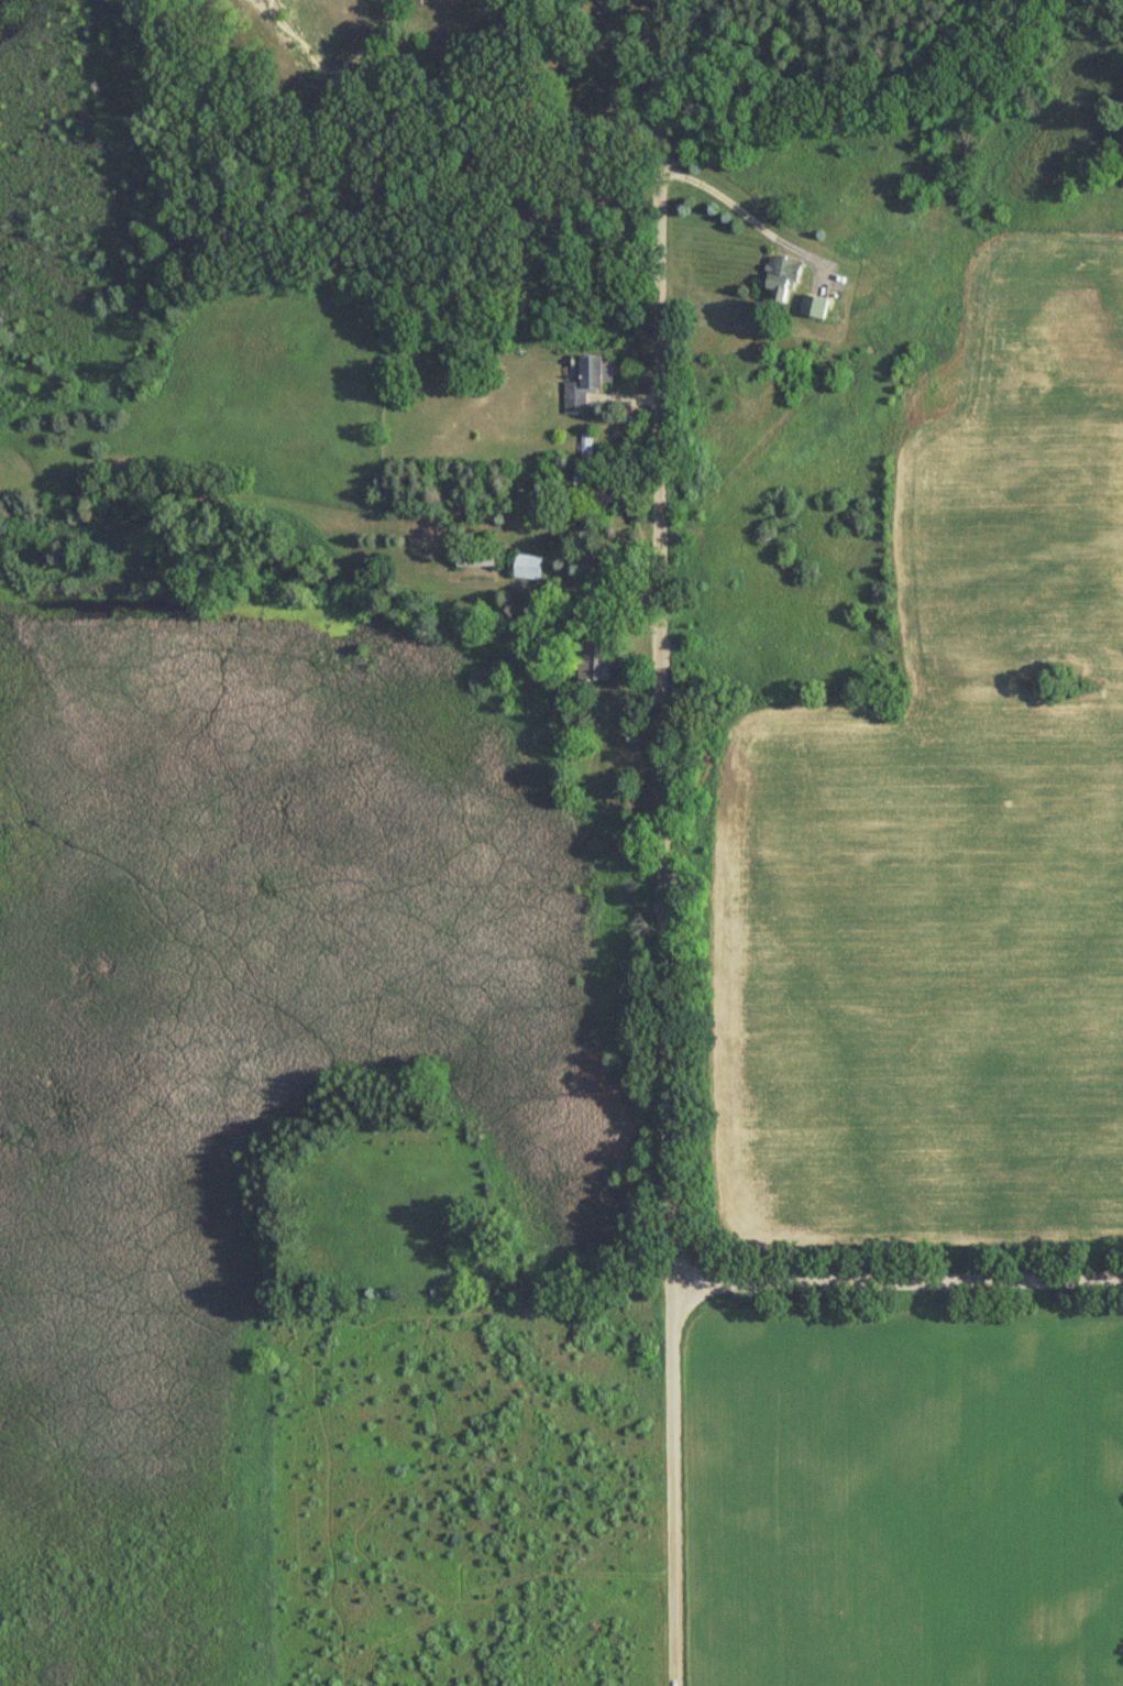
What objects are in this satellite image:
road: (745, 209)
building: (777, 276)
building: (810, 306)
building: (580, 380)
building: (588, 479)
building: (481, 557)
building: (531, 567)
building: (596, 667)
crop: (949, 821)
road: (659, 843)
road: (895, 1283)
crop: (904, 1497)

